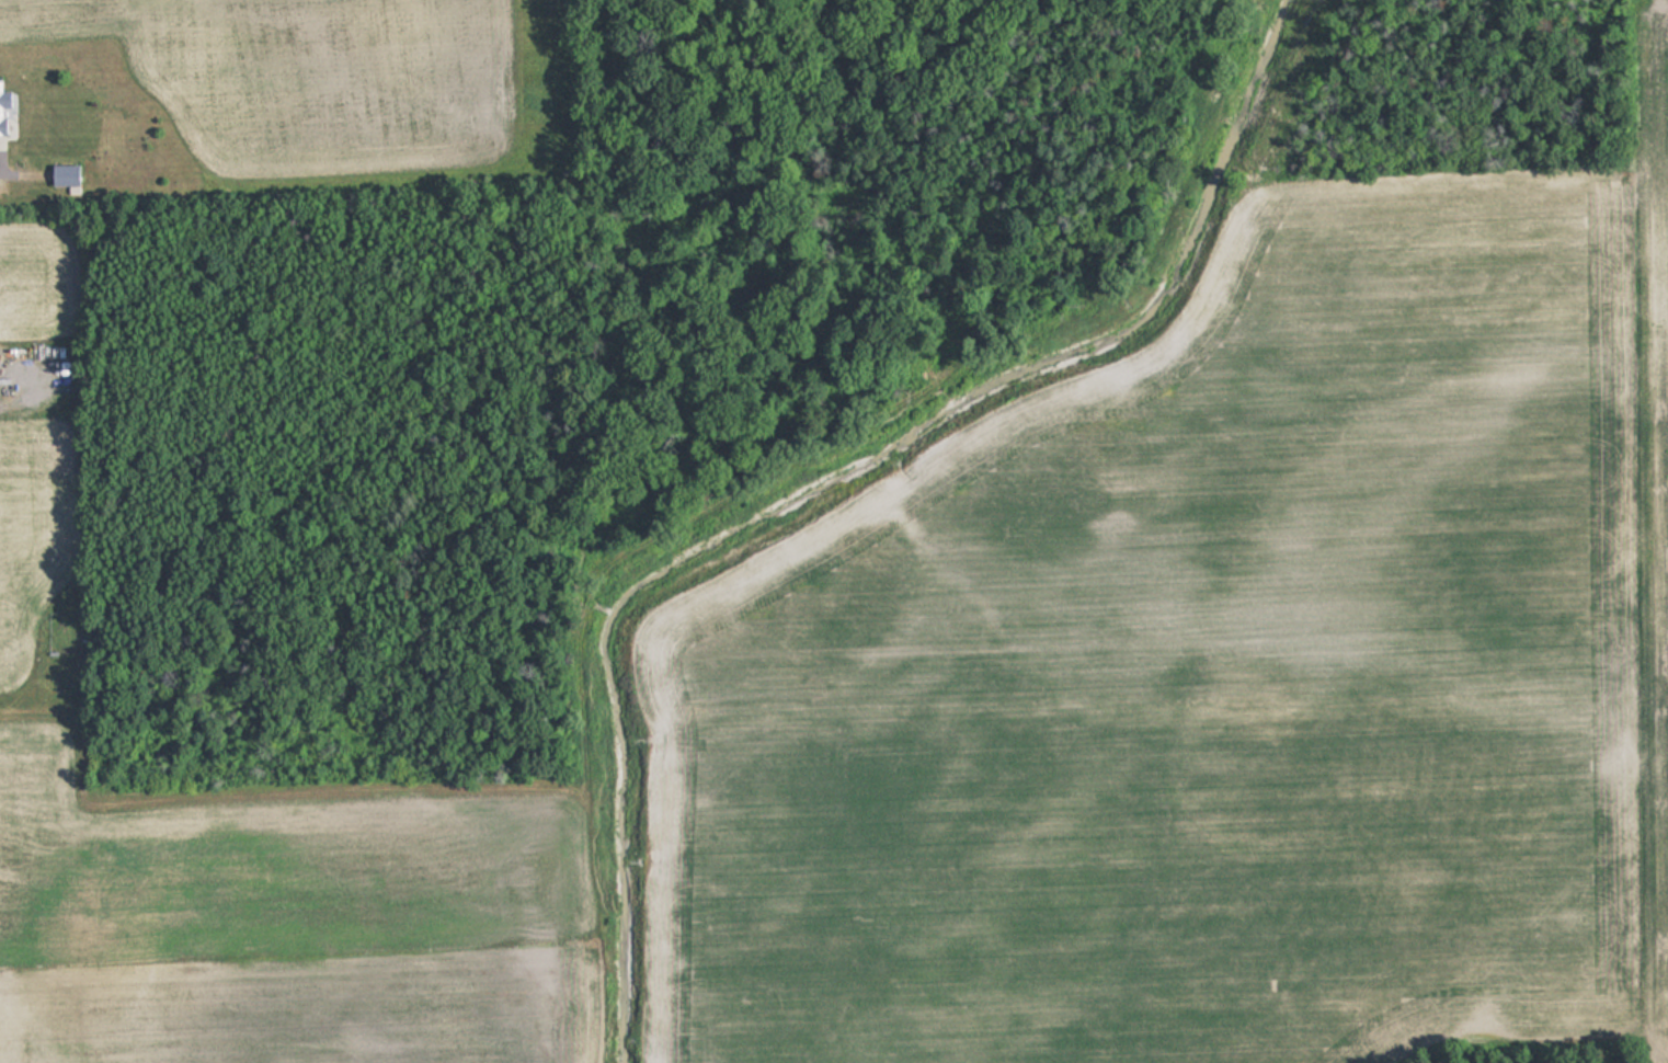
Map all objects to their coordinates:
building: (3, 112)
building: (62, 176)

